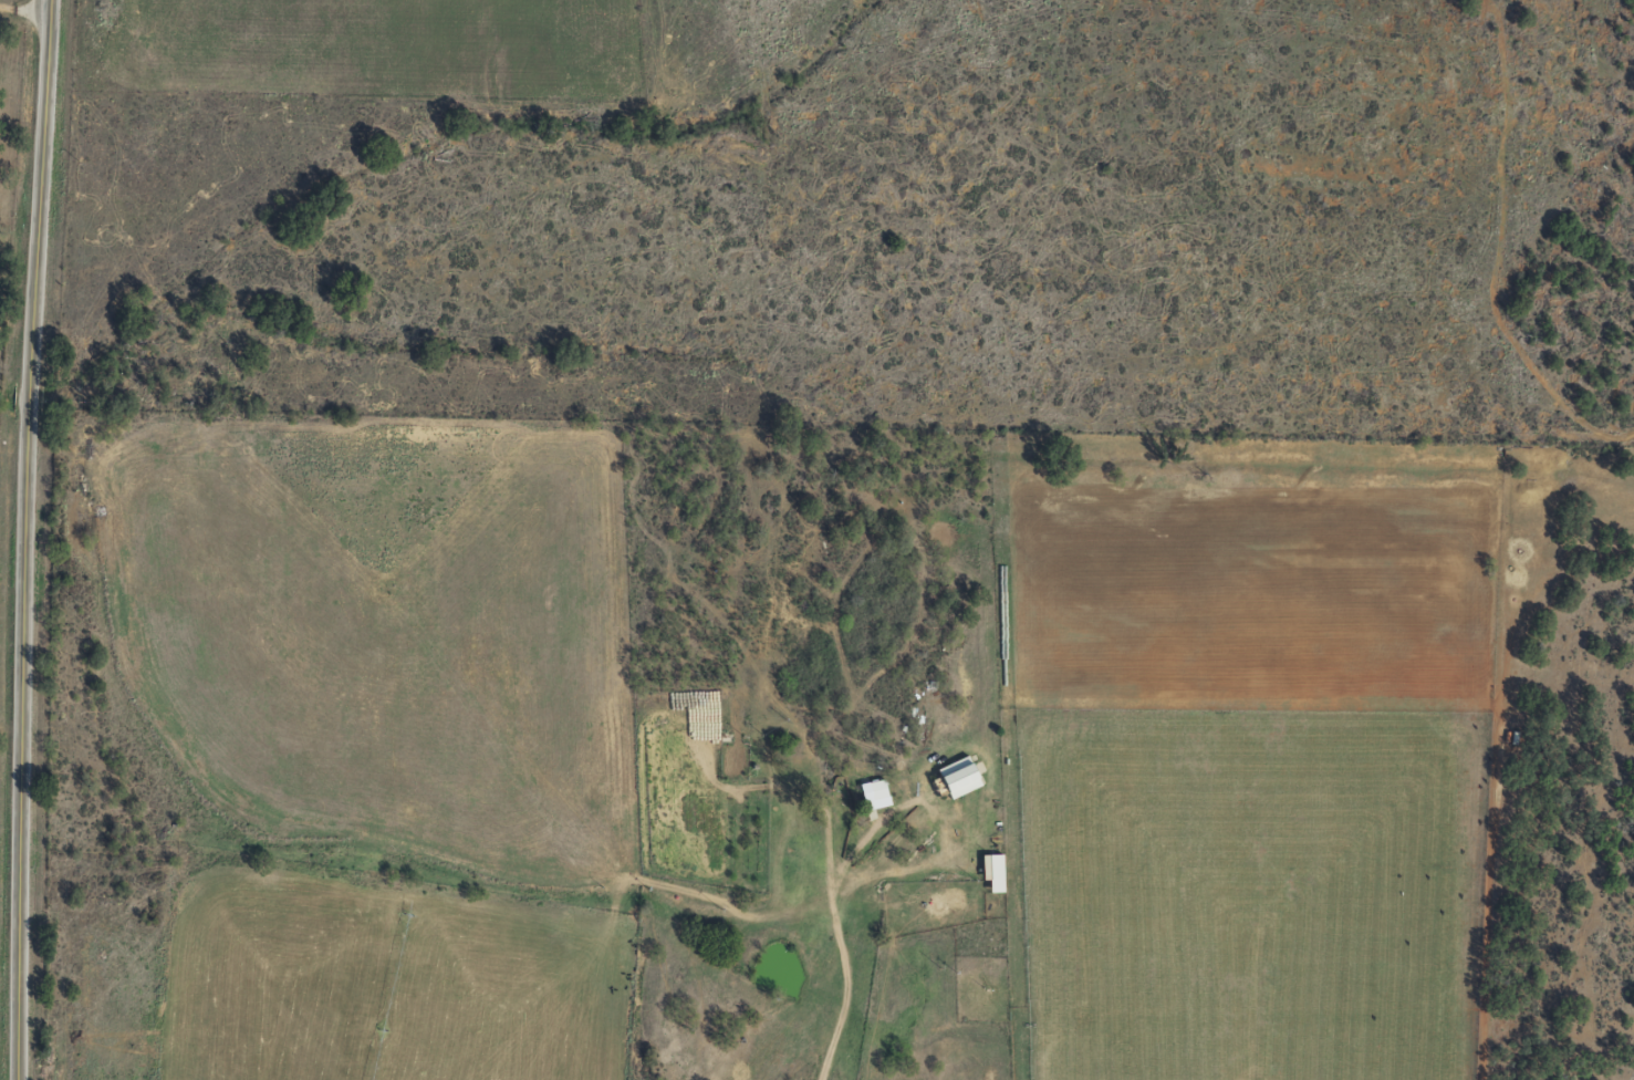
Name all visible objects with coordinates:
road: (25, 84)
road: (24, 539)
building: (959, 777)
building: (874, 790)
building: (998, 862)
road: (852, 997)

